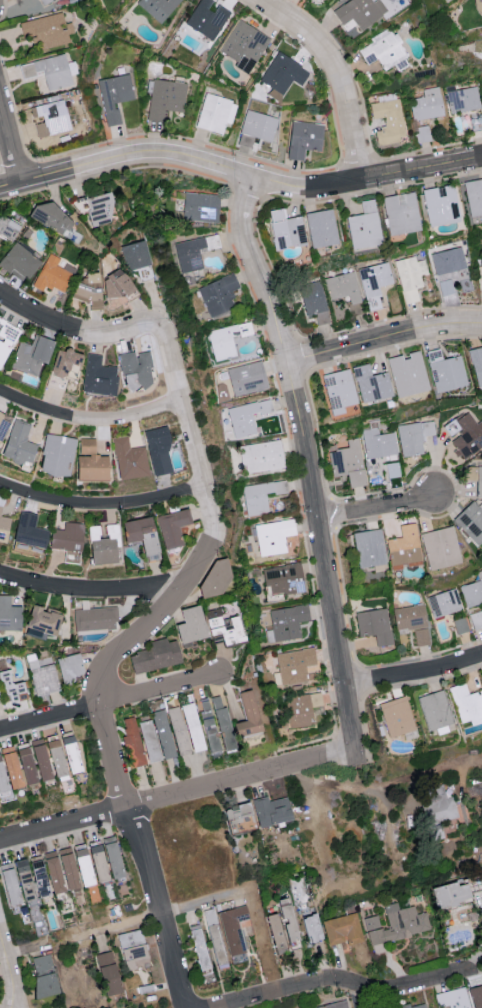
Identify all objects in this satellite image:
building: (44, 1)
building: (158, 7)
building: (359, 12)
building: (206, 19)
building: (47, 29)
building: (244, 45)
building: (383, 49)
building: (49, 71)
building: (283, 73)
road: (339, 74)
building: (114, 95)
building: (165, 97)
building: (464, 99)
building: (427, 104)
building: (215, 113)
building: (51, 117)
building: (388, 120)
building: (258, 125)
building: (304, 138)
road: (9, 150)
road: (239, 173)
building: (474, 198)
building: (440, 203)
building: (201, 206)
building: (99, 209)
building: (401, 213)
building: (50, 217)
building: (364, 226)
building: (321, 227)
building: (6, 229)
building: (286, 229)
building: (192, 252)
building: (136, 254)
building: (448, 260)
building: (18, 261)
building: (481, 261)
building: (144, 272)
building: (53, 274)
building: (375, 275)
building: (410, 276)
building: (115, 284)
building: (343, 286)
building: (446, 286)
building: (87, 290)
building: (219, 294)
building: (314, 301)
building: (374, 301)
road: (77, 330)
building: (6, 338)
road: (386, 338)
building: (31, 355)
building: (65, 363)
building: (477, 367)
building: (135, 369)
building: (445, 371)
building: (407, 374)
building: (98, 376)
building: (247, 378)
building: (371, 383)
building: (339, 390)
building: (245, 416)
road: (89, 418)
building: (2, 425)
building: (468, 435)
building: (414, 436)
building: (378, 442)
building: (19, 443)
building: (158, 450)
building: (56, 455)
building: (129, 459)
road: (306, 460)
building: (90, 461)
building: (349, 462)
building: (479, 481)
building: (261, 495)
road: (102, 505)
road: (372, 508)
building: (471, 520)
building: (3, 526)
building: (172, 527)
building: (29, 531)
building: (141, 535)
building: (273, 536)
building: (68, 540)
building: (103, 545)
building: (440, 546)
building: (369, 547)
building: (404, 547)
building: (284, 578)
building: (214, 580)
road: (91, 591)
building: (473, 591)
building: (444, 602)
building: (8, 614)
building: (95, 619)
building: (476, 619)
building: (412, 621)
building: (42, 622)
building: (286, 622)
building: (190, 625)
building: (375, 625)
building: (461, 625)
building: (223, 627)
road: (118, 653)
building: (155, 656)
building: (294, 665)
building: (69, 668)
road: (414, 675)
building: (42, 677)
building: (11, 686)
building: (466, 703)
road: (109, 704)
building: (302, 708)
building: (435, 711)
building: (247, 716)
building: (396, 716)
building: (222, 722)
building: (208, 725)
building: (192, 727)
building: (177, 731)
building: (156, 737)
building: (132, 743)
building: (70, 753)
building: (55, 758)
building: (40, 759)
building: (25, 764)
building: (10, 767)
building: (1, 778)
road: (374, 790)
road: (177, 796)
building: (438, 803)
building: (271, 809)
building: (239, 816)
building: (112, 856)
building: (98, 861)
building: (83, 863)
building: (68, 867)
building: (53, 870)
building: (39, 876)
building: (16, 881)
building: (474, 882)
building: (451, 893)
road: (161, 912)
building: (286, 920)
building: (397, 924)
building: (234, 926)
building: (311, 926)
building: (343, 929)
building: (275, 932)
building: (214, 935)
building: (132, 948)
building: (199, 948)
road: (20, 949)
road: (7, 972)
building: (107, 972)
building: (43, 974)
road: (340, 981)
building: (476, 995)
road: (357, 997)
building: (453, 997)
building: (335, 1005)
building: (415, 1005)

